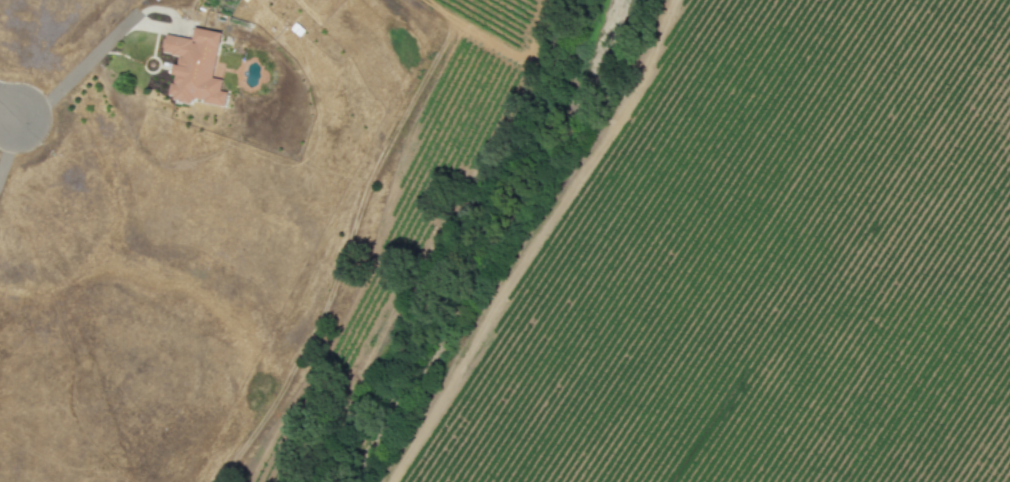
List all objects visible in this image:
building: (195, 67)
road: (78, 71)
road: (8, 110)
road: (8, 123)
road: (9, 145)

